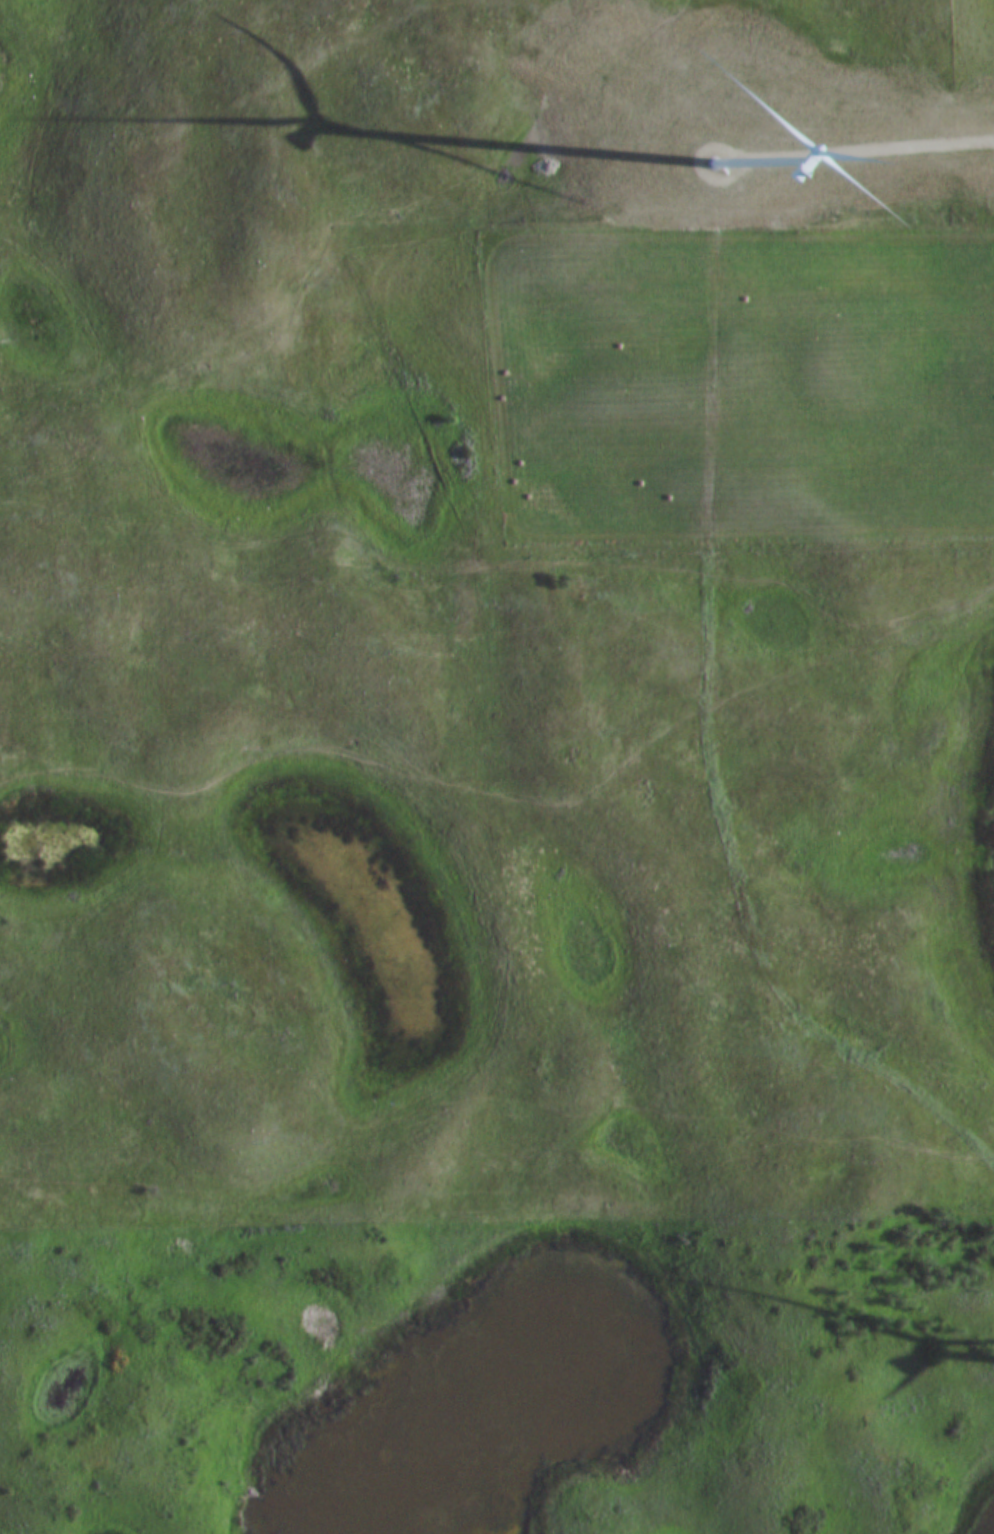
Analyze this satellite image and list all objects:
wind turbine: (691, 149)
road: (882, 152)

